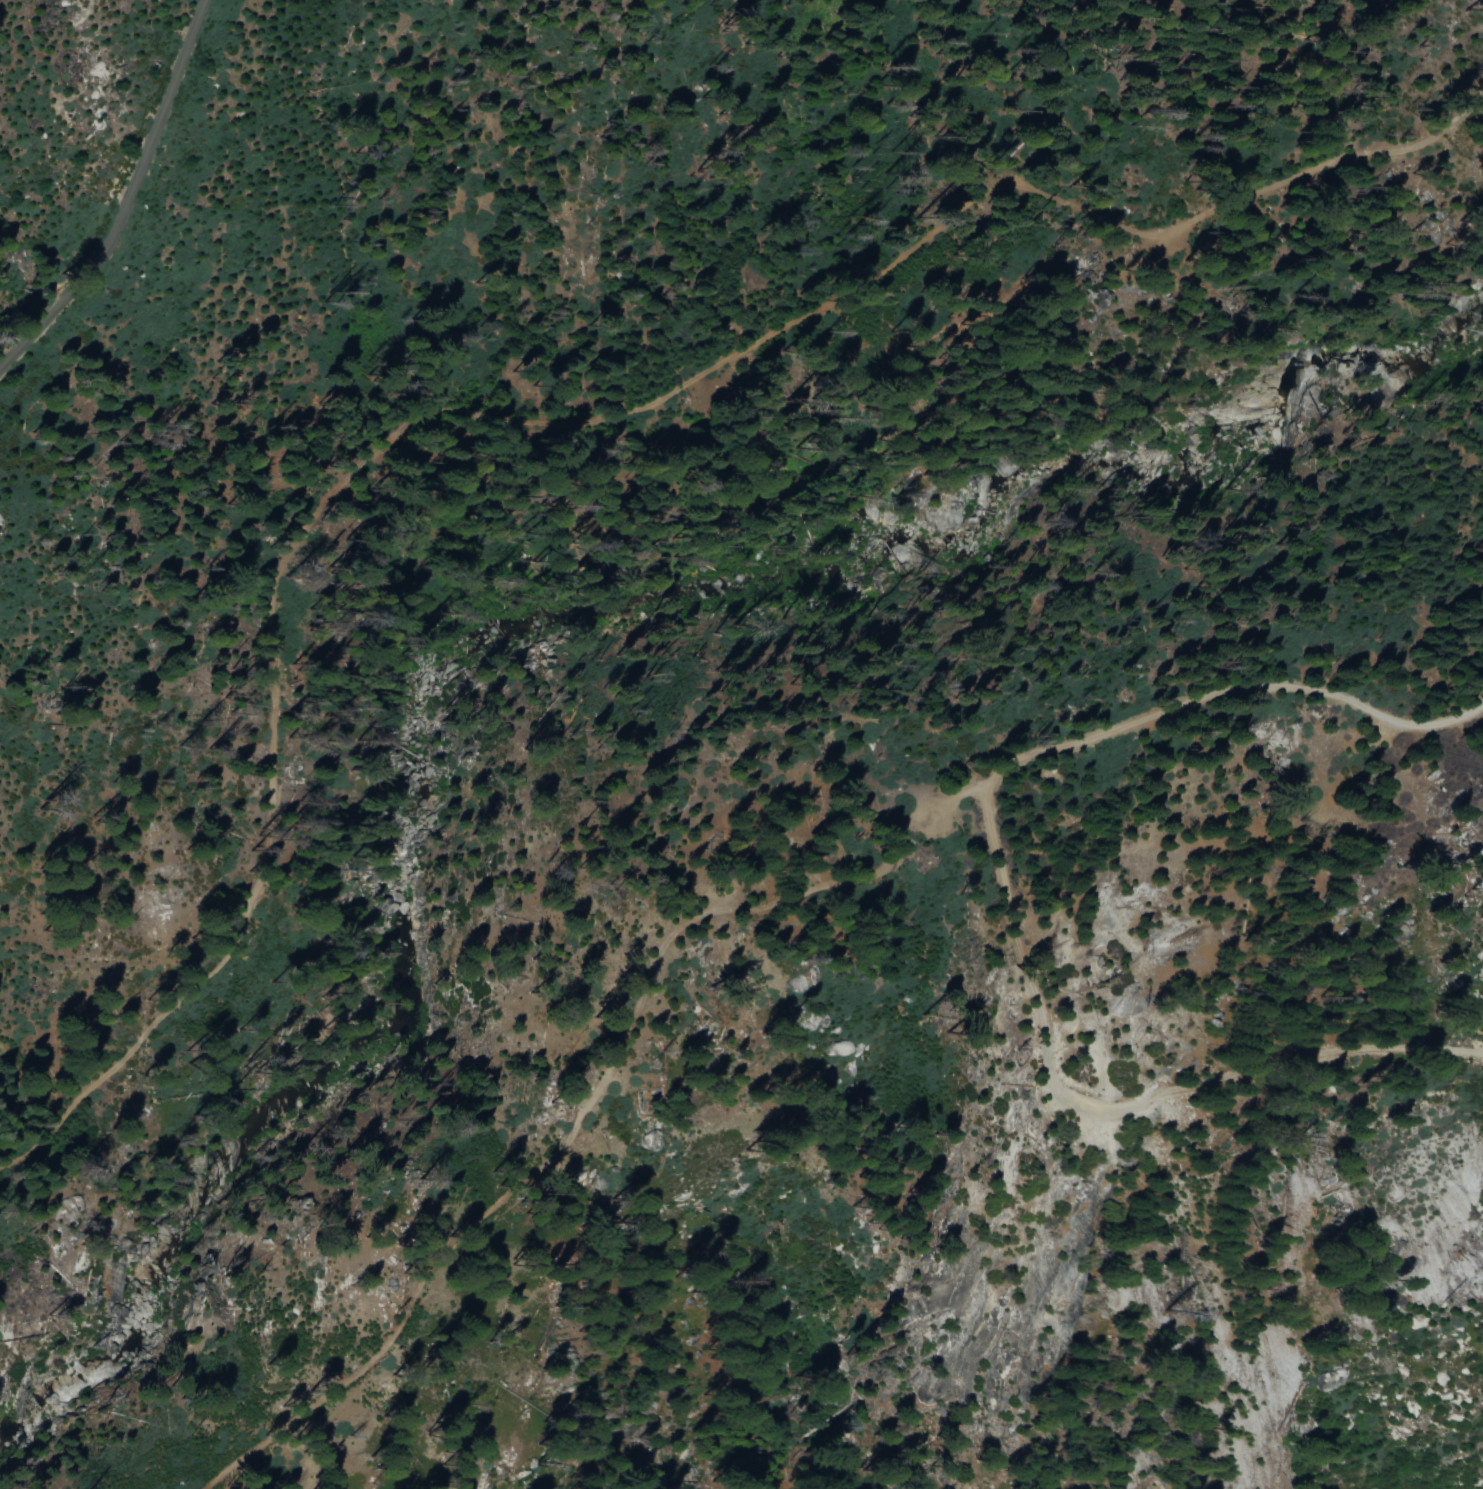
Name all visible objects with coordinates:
road: (1316, 167)
road: (127, 196)
river: (501, 658)
road: (1232, 691)
road: (585, 1104)
road: (1110, 1111)

